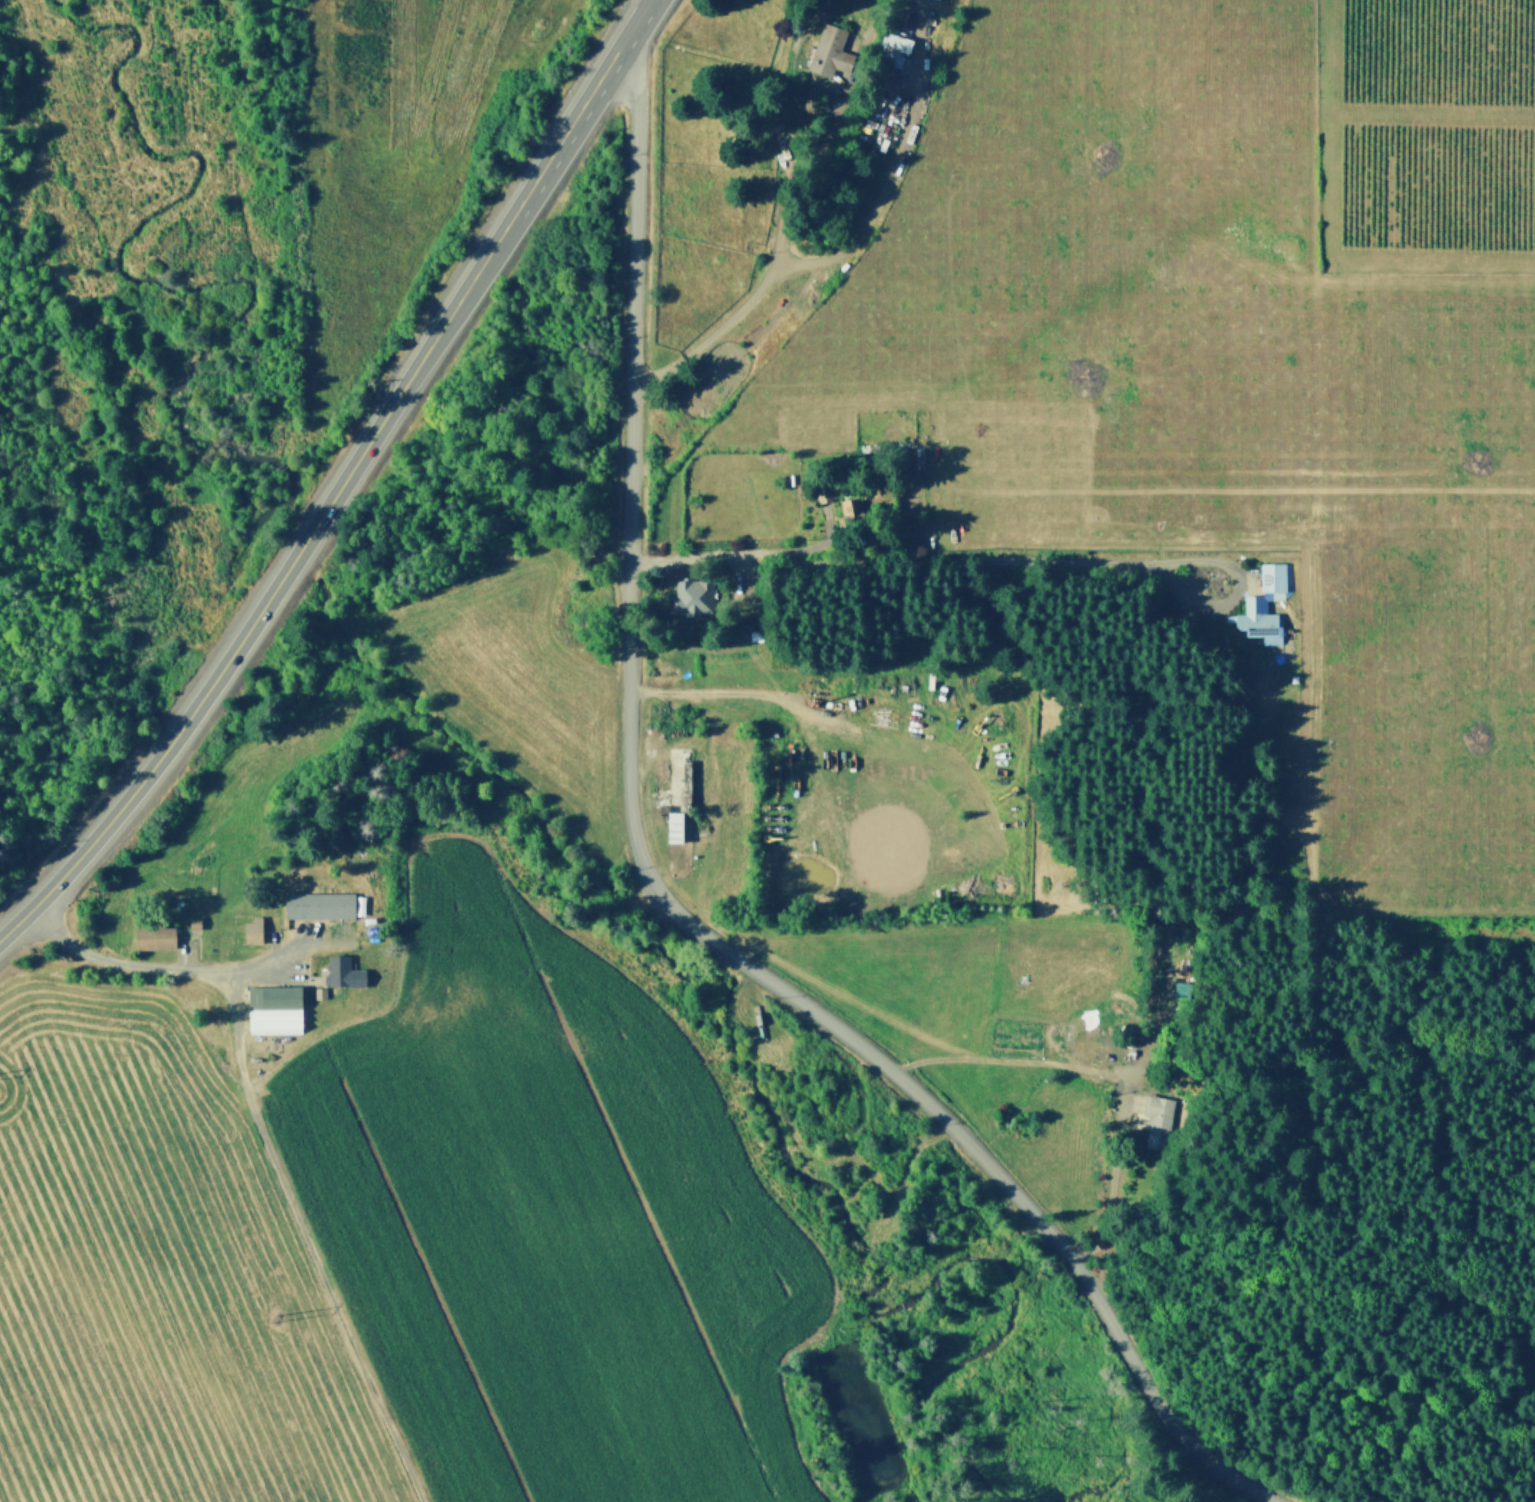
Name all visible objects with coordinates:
road: (638, 7)
road: (642, 7)
building: (827, 45)
building: (893, 50)
crop: (1430, 50)
building: (890, 105)
crop: (402, 148)
road: (800, 180)
crop: (1428, 186)
road: (846, 243)
road: (469, 280)
crop: (1196, 404)
building: (908, 453)
road: (1217, 467)
building: (857, 503)
road: (909, 515)
road: (1211, 520)
building: (602, 545)
road: (1004, 555)
building: (695, 585)
building: (1264, 601)
building: (576, 612)
road: (702, 690)
crop: (511, 691)
road: (161, 751)
building: (674, 784)
building: (369, 854)
building: (316, 882)
road: (656, 890)
building: (319, 903)
building: (358, 906)
building: (194, 921)
building: (254, 928)
building: (154, 933)
road: (263, 967)
building: (344, 970)
building: (318, 991)
building: (274, 1005)
building: (281, 1051)
building: (215, 1068)
road: (1103, 1080)
road: (265, 1145)
crop: (536, 1221)
crop: (149, 1279)

